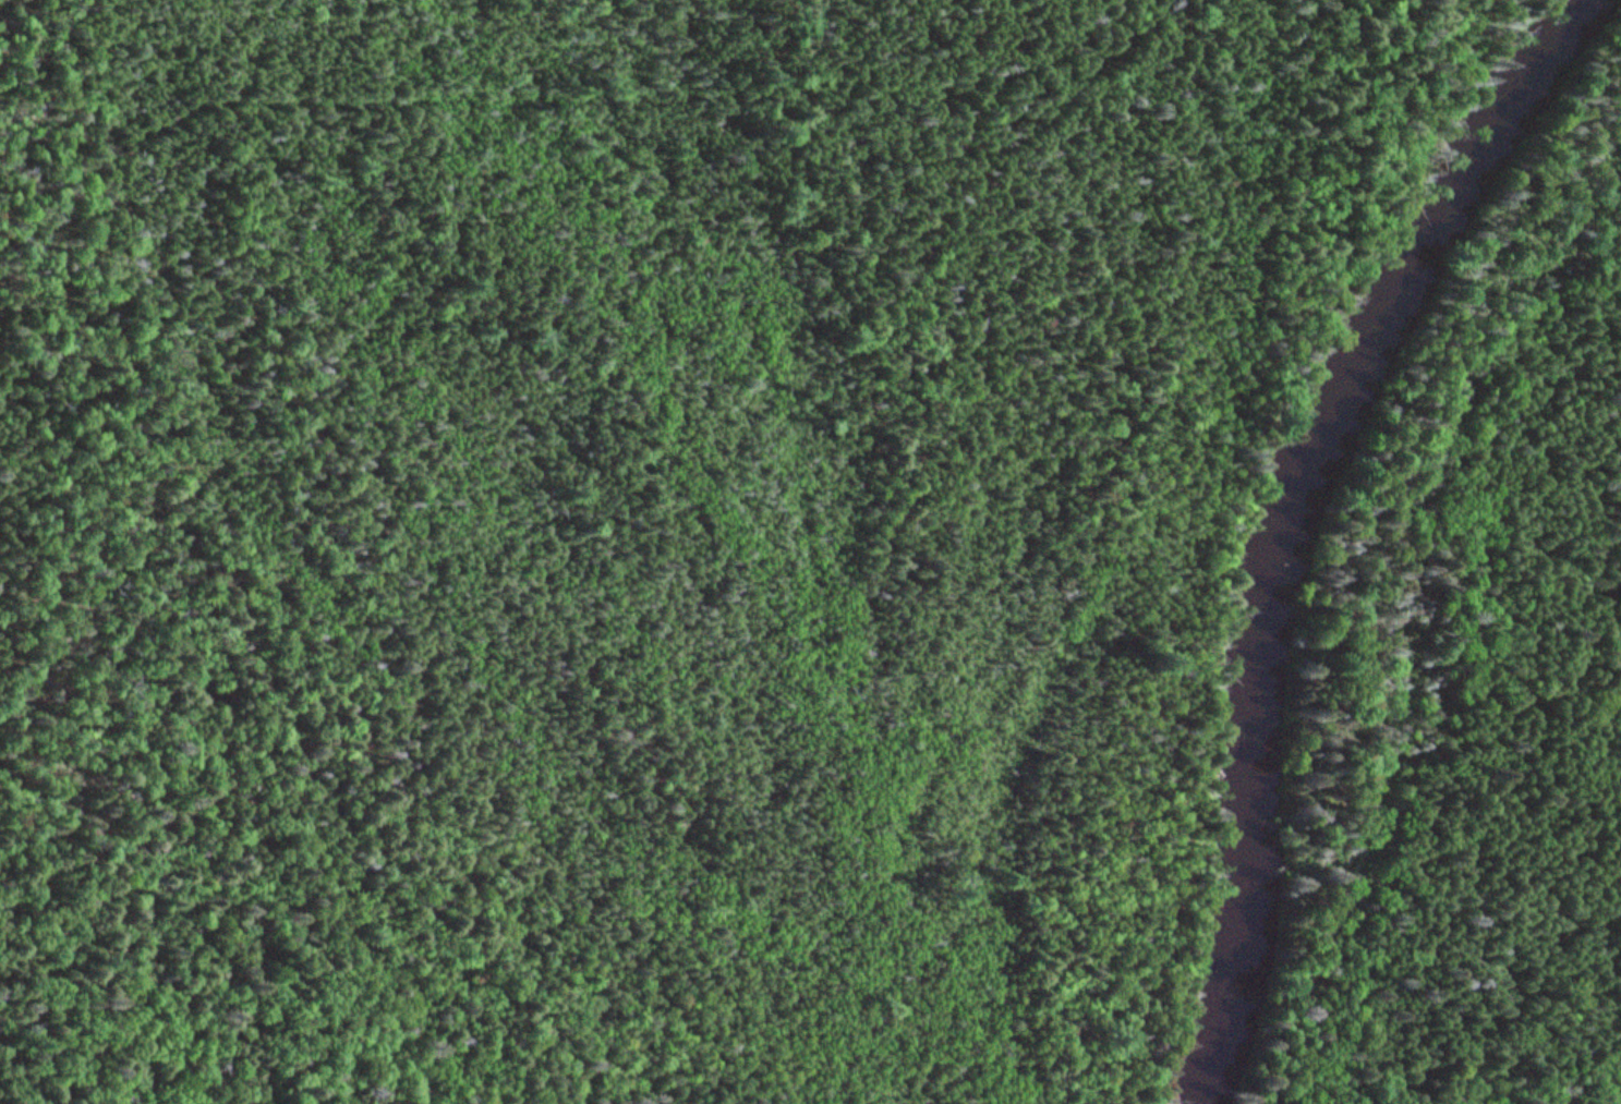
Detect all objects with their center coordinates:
river: (1289, 518)

